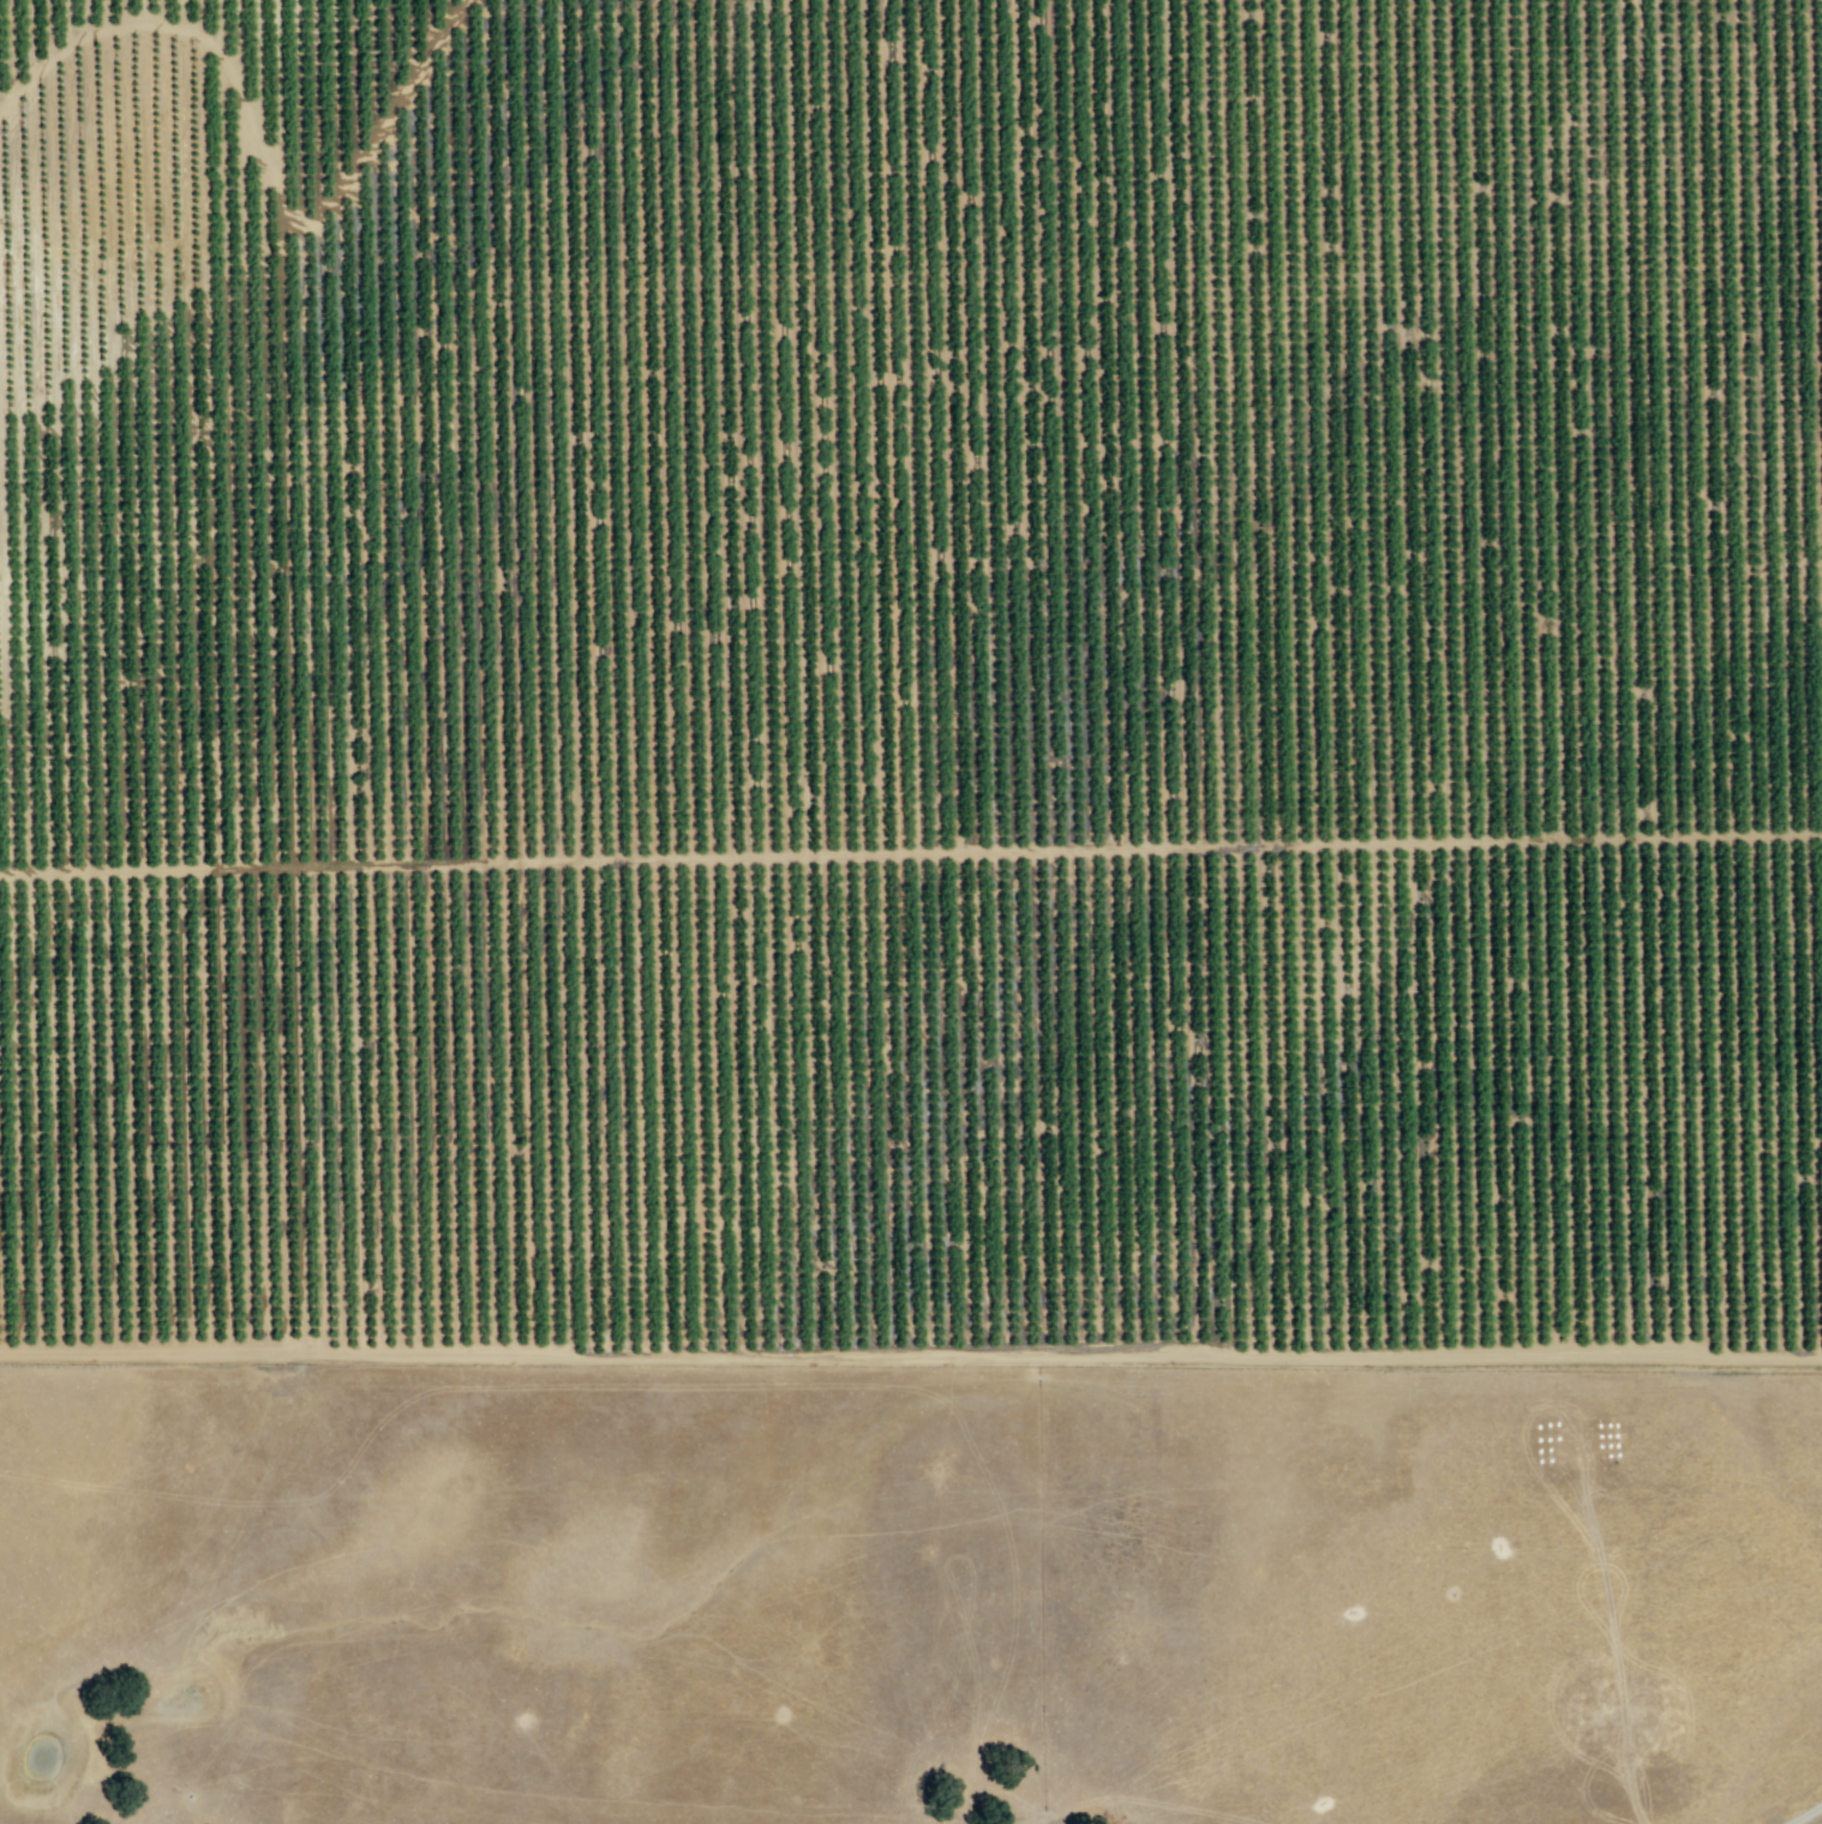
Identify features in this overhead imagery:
road: (1808, 1816)

